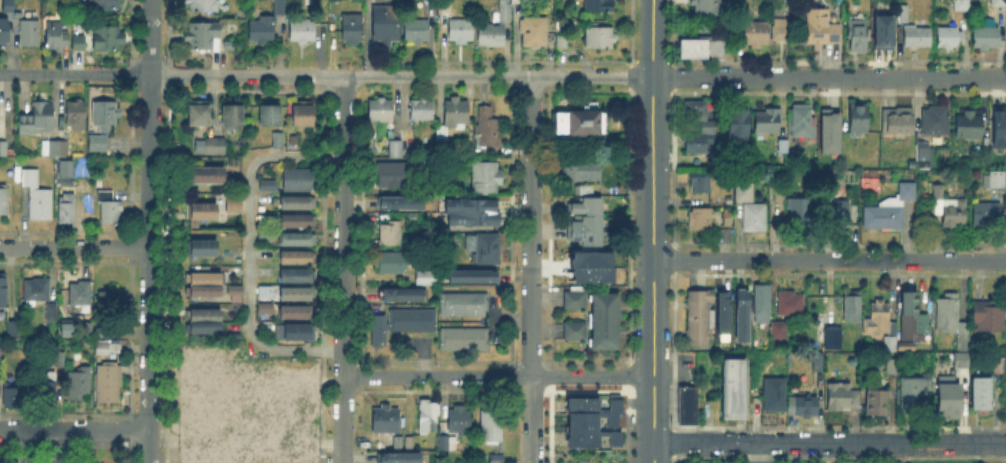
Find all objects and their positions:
building: (431, 1)
building: (521, 2)
building: (998, 4)
building: (105, 5)
building: (963, 5)
building: (8, 7)
building: (704, 7)
building: (203, 8)
building: (281, 8)
building: (599, 8)
building: (905, 14)
building: (502, 25)
building: (386, 26)
building: (817, 27)
building: (881, 30)
building: (353, 31)
building: (781, 31)
building: (262, 32)
building: (418, 32)
building: (302, 34)
building: (461, 34)
building: (30, 35)
building: (535, 35)
building: (4, 36)
building: (598, 36)
building: (835, 36)
building: (56, 37)
building: (757, 37)
building: (859, 37)
building: (919, 37)
building: (204, 40)
building: (950, 40)
building: (107, 42)
building: (987, 42)
building: (78, 43)
building: (563, 44)
building: (703, 52)
road: (661, 62)
road: (75, 72)
road: (247, 74)
road: (498, 75)
road: (829, 77)
building: (697, 113)
building: (268, 114)
building: (422, 114)
building: (230, 115)
building: (382, 115)
building: (76, 116)
road: (344, 116)
road: (532, 117)
building: (858, 117)
building: (105, 118)
building: (199, 118)
building: (454, 119)
building: (37, 120)
building: (998, 120)
building: (803, 123)
building: (937, 123)
building: (769, 124)
building: (899, 125)
building: (304, 128)
building: (740, 128)
building: (970, 129)
building: (581, 131)
building: (827, 131)
building: (487, 134)
building: (276, 140)
building: (99, 145)
building: (699, 145)
building: (55, 148)
building: (216, 148)
building: (3, 149)
building: (397, 152)
building: (723, 155)
building: (924, 158)
building: (964, 165)
building: (578, 168)
building: (486, 175)
building: (294, 178)
building: (395, 178)
building: (203, 180)
building: (265, 183)
building: (997, 183)
building: (85, 188)
building: (581, 188)
building: (701, 188)
building: (746, 194)
building: (2, 198)
building: (37, 199)
building: (402, 200)
building: (296, 203)
building: (232, 205)
building: (473, 209)
building: (110, 211)
building: (68, 212)
building: (890, 212)
building: (950, 213)
building: (801, 214)
building: (840, 214)
building: (204, 215)
building: (988, 217)
building: (700, 218)
building: (583, 220)
building: (755, 220)
building: (296, 221)
road: (150, 231)
road: (653, 231)
building: (264, 236)
building: (391, 237)
building: (296, 240)
building: (488, 247)
road: (75, 248)
road: (249, 250)
building: (202, 253)
building: (295, 259)
road: (830, 259)
building: (392, 264)
building: (589, 265)
road: (343, 266)
road: (531, 267)
building: (471, 274)
building: (295, 277)
building: (426, 280)
building: (205, 287)
building: (2, 289)
building: (38, 289)
building: (262, 290)
building: (235, 291)
building: (81, 293)
building: (110, 295)
building: (296, 296)
building: (402, 296)
building: (572, 298)
building: (790, 305)
building: (464, 306)
building: (760, 307)
building: (265, 308)
building: (854, 309)
building: (48, 310)
building: (721, 311)
building: (296, 313)
building: (737, 316)
building: (950, 316)
building: (986, 317)
building: (409, 318)
building: (602, 319)
building: (701, 320)
building: (204, 322)
building: (911, 323)
building: (10, 326)
building: (64, 326)
building: (883, 327)
building: (376, 328)
building: (1005, 328)
building: (572, 329)
building: (779, 329)
building: (296, 332)
building: (234, 336)
building: (465, 340)
building: (830, 341)
building: (108, 348)
building: (59, 358)
building: (962, 360)
building: (818, 361)
building: (996, 366)
building: (893, 369)
road: (498, 376)
building: (79, 383)
building: (110, 383)
building: (48, 386)
building: (916, 390)
building: (13, 394)
building: (1005, 395)
building: (737, 397)
building: (776, 398)
building: (839, 398)
building: (947, 398)
building: (984, 401)
building: (876, 404)
building: (802, 406)
building: (688, 407)
road: (530, 412)
building: (427, 418)
road: (342, 420)
building: (385, 421)
building: (459, 421)
building: (591, 421)
building: (228, 422)
building: (488, 424)
road: (74, 430)
road: (830, 442)
building: (448, 443)
building: (409, 444)
road: (60, 446)
road: (761, 452)
road: (530, 455)
building: (493, 457)
building: (399, 459)

